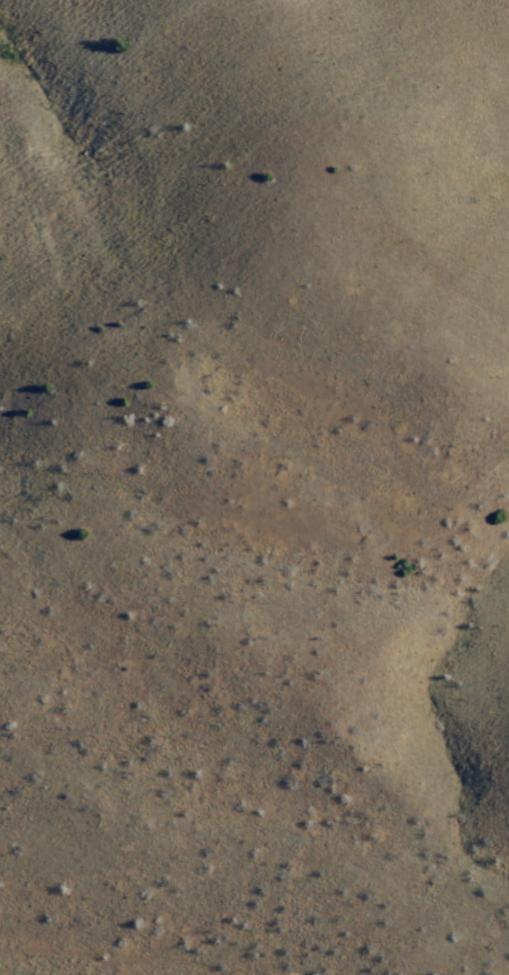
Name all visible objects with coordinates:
road: (169, 953)

